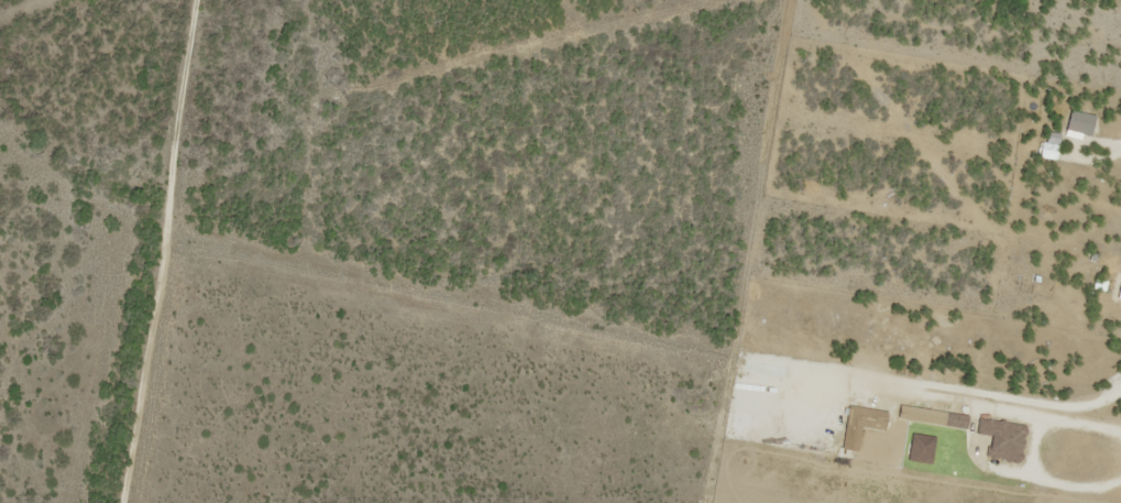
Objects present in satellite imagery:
road: (165, 251)

